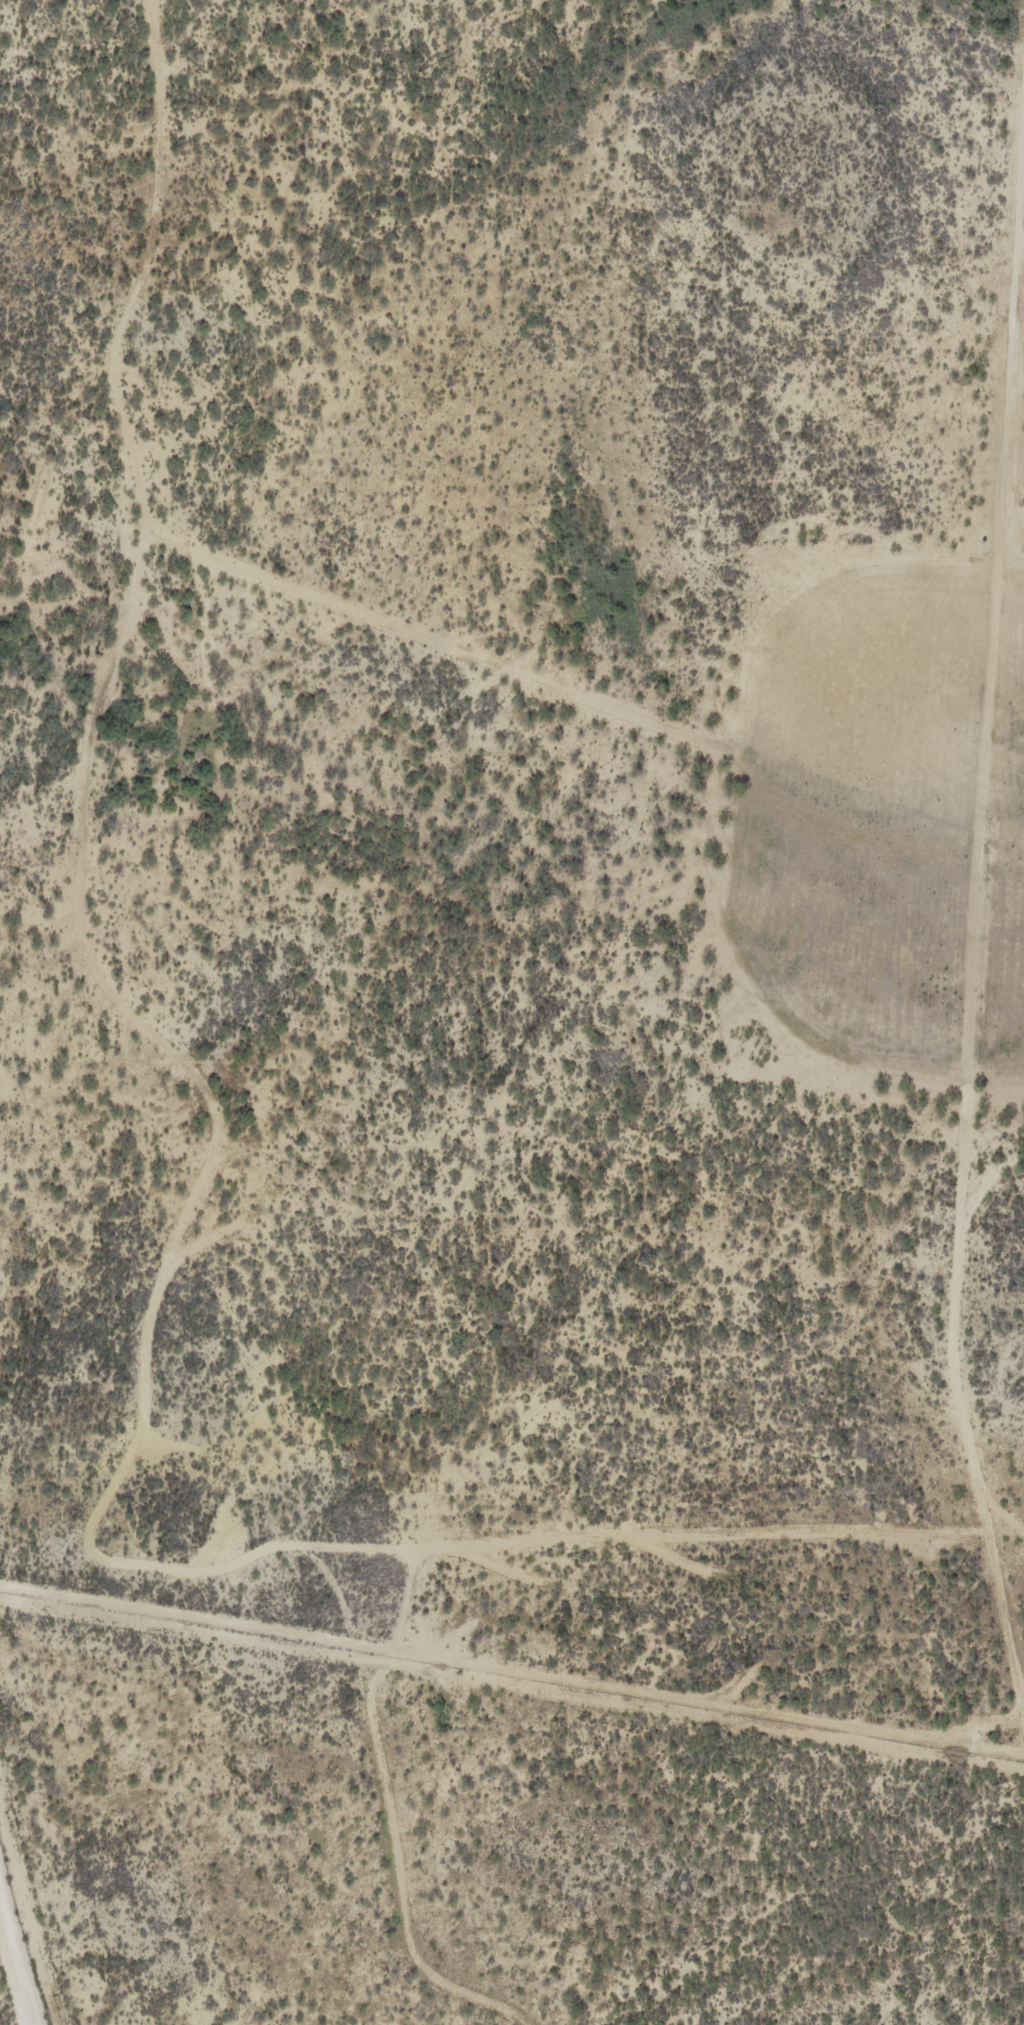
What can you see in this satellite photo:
road: (512, 1671)
road: (16, 1965)

